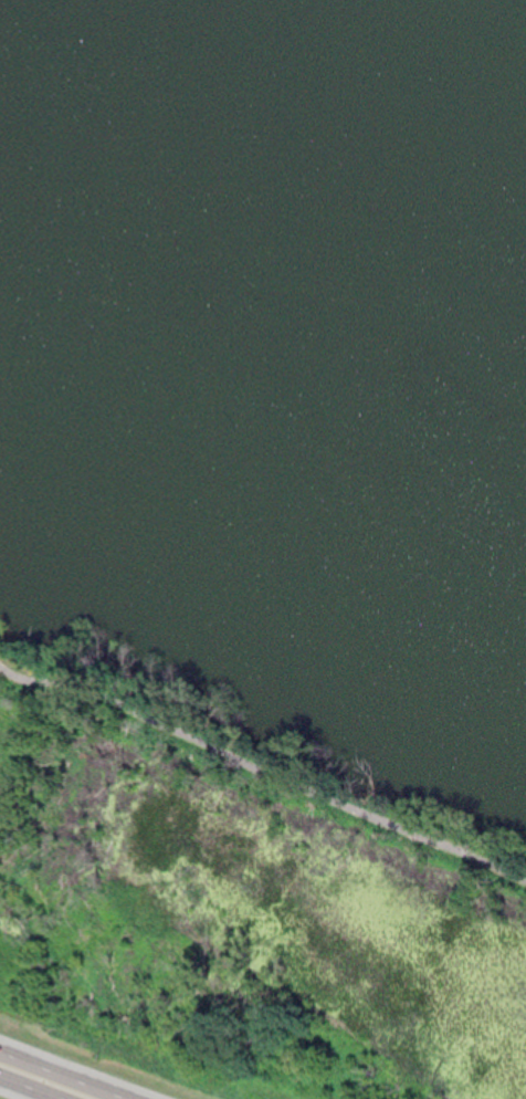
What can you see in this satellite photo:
river: (264, 243)
park: (265, 541)
road: (262, 765)
road: (66, 1075)
road: (31, 1087)

